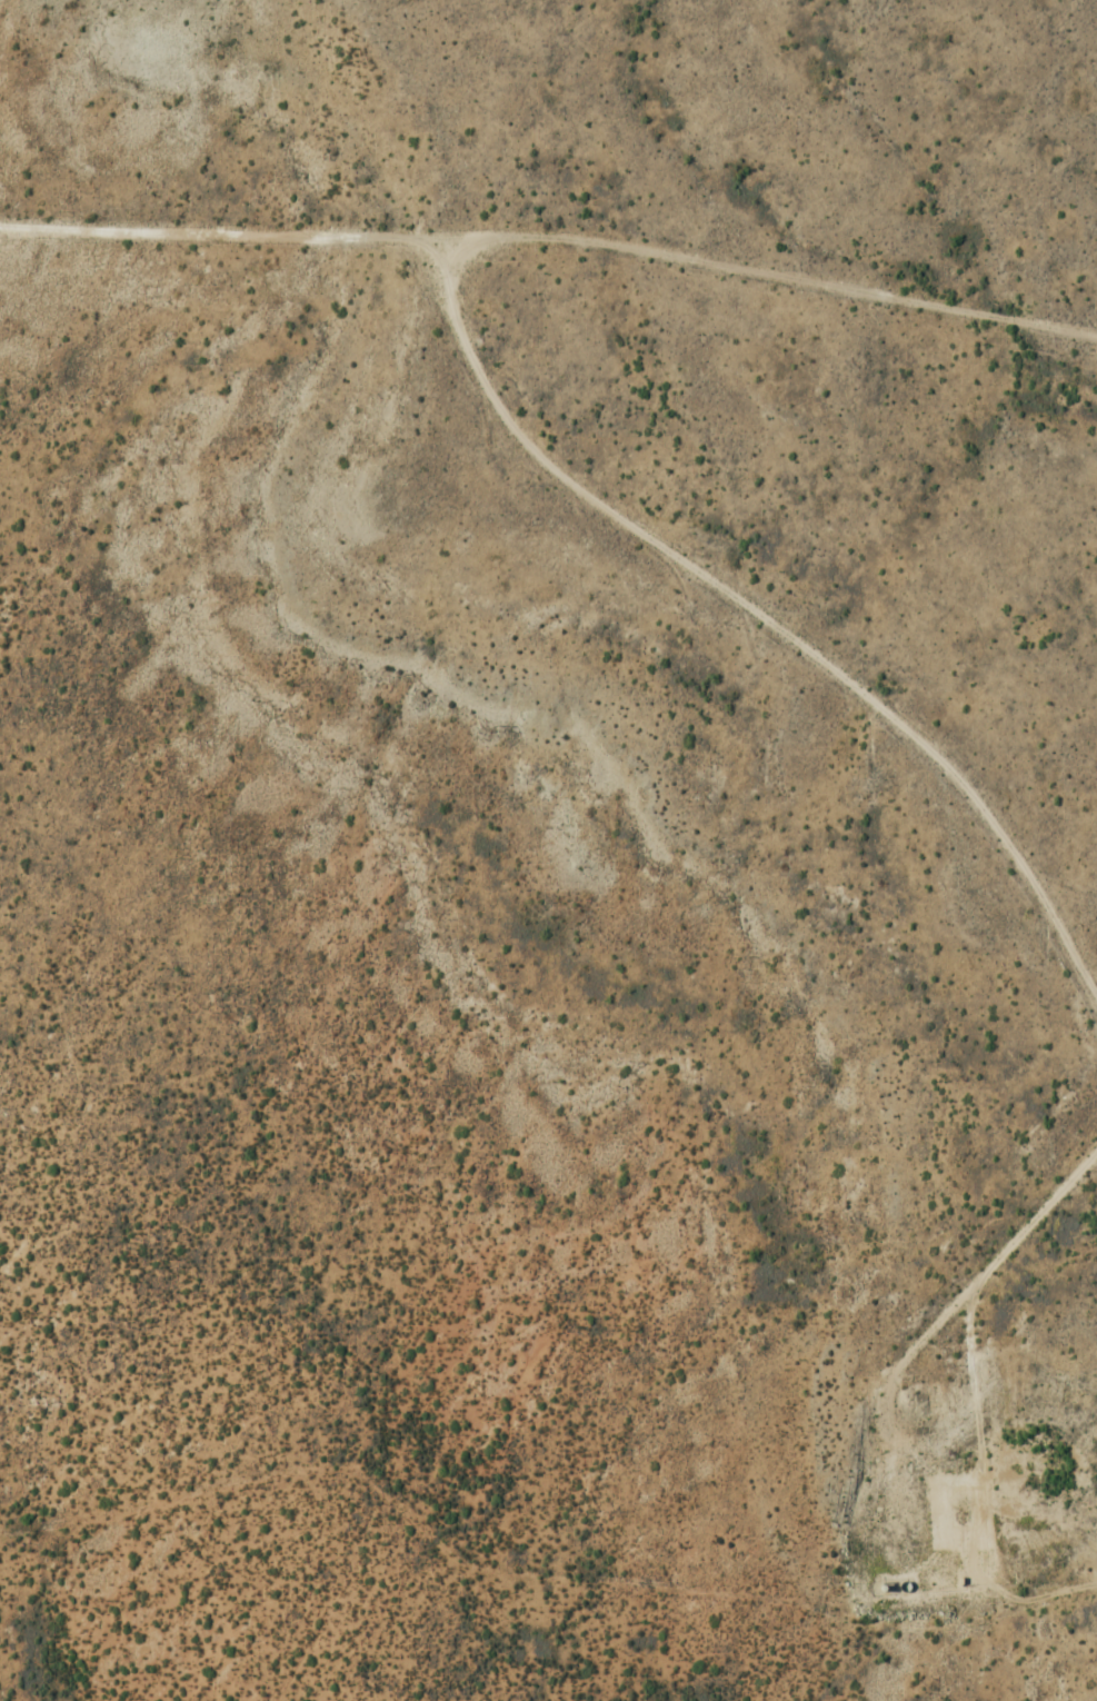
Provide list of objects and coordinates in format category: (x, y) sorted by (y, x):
road: (552, 231)
road: (601, 499)
road: (991, 1594)

